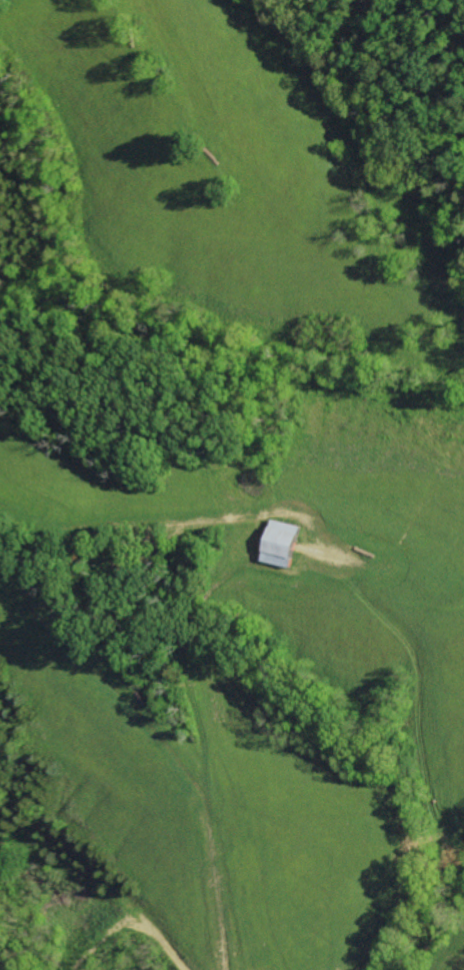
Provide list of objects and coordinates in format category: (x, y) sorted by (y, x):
building: (286, 543)
road: (332, 926)

